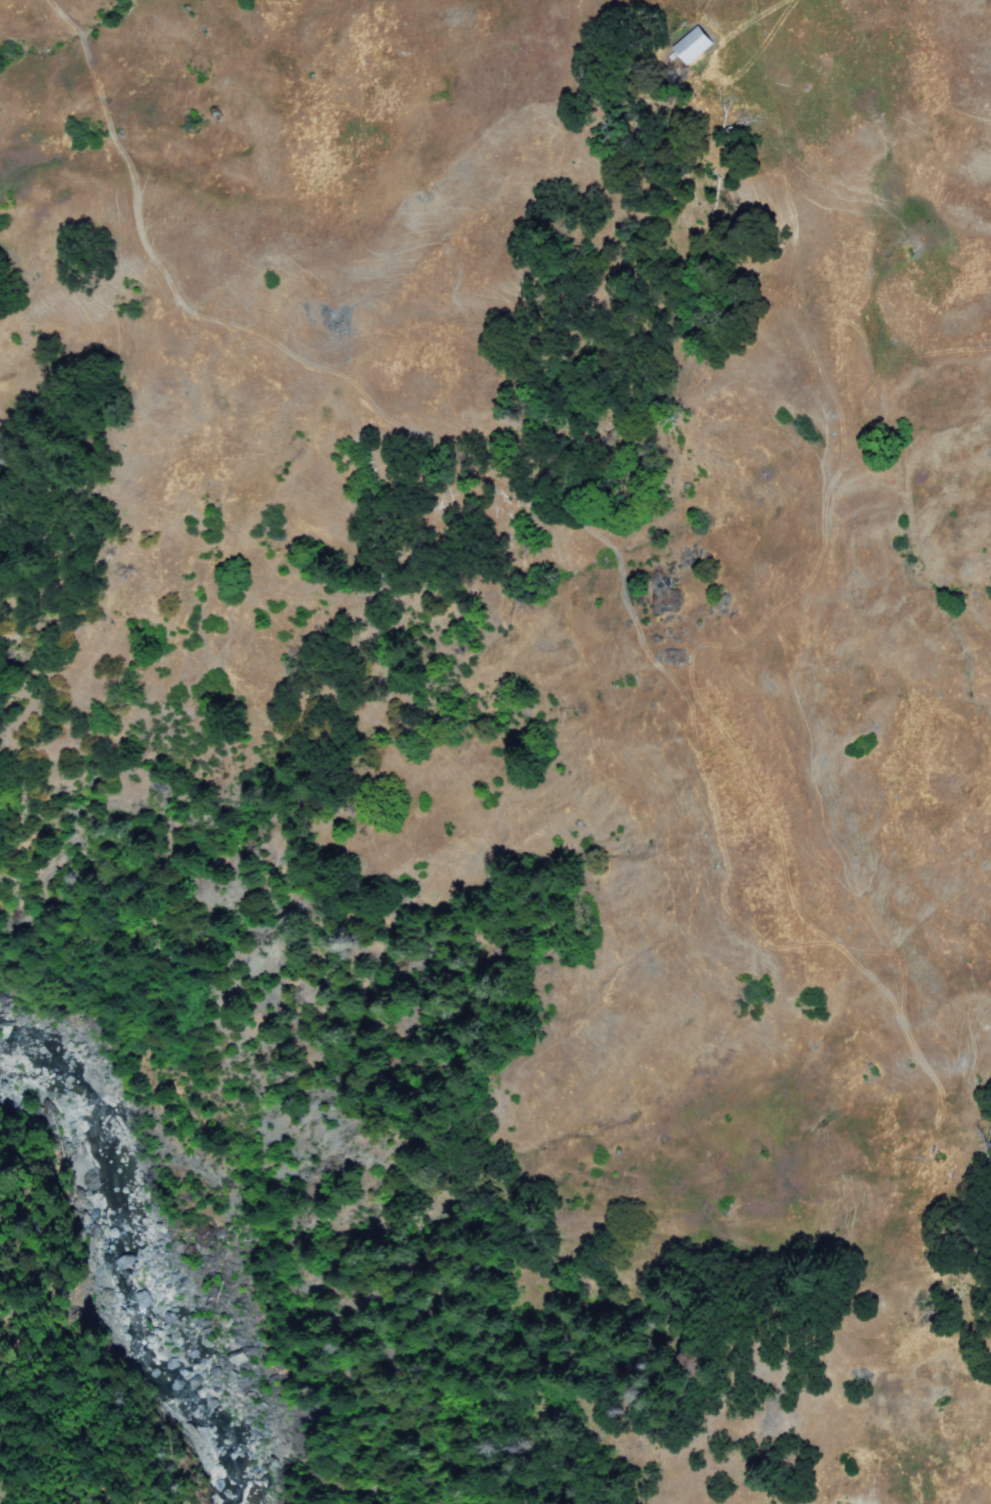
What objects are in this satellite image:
building: (693, 45)
river: (143, 1253)

